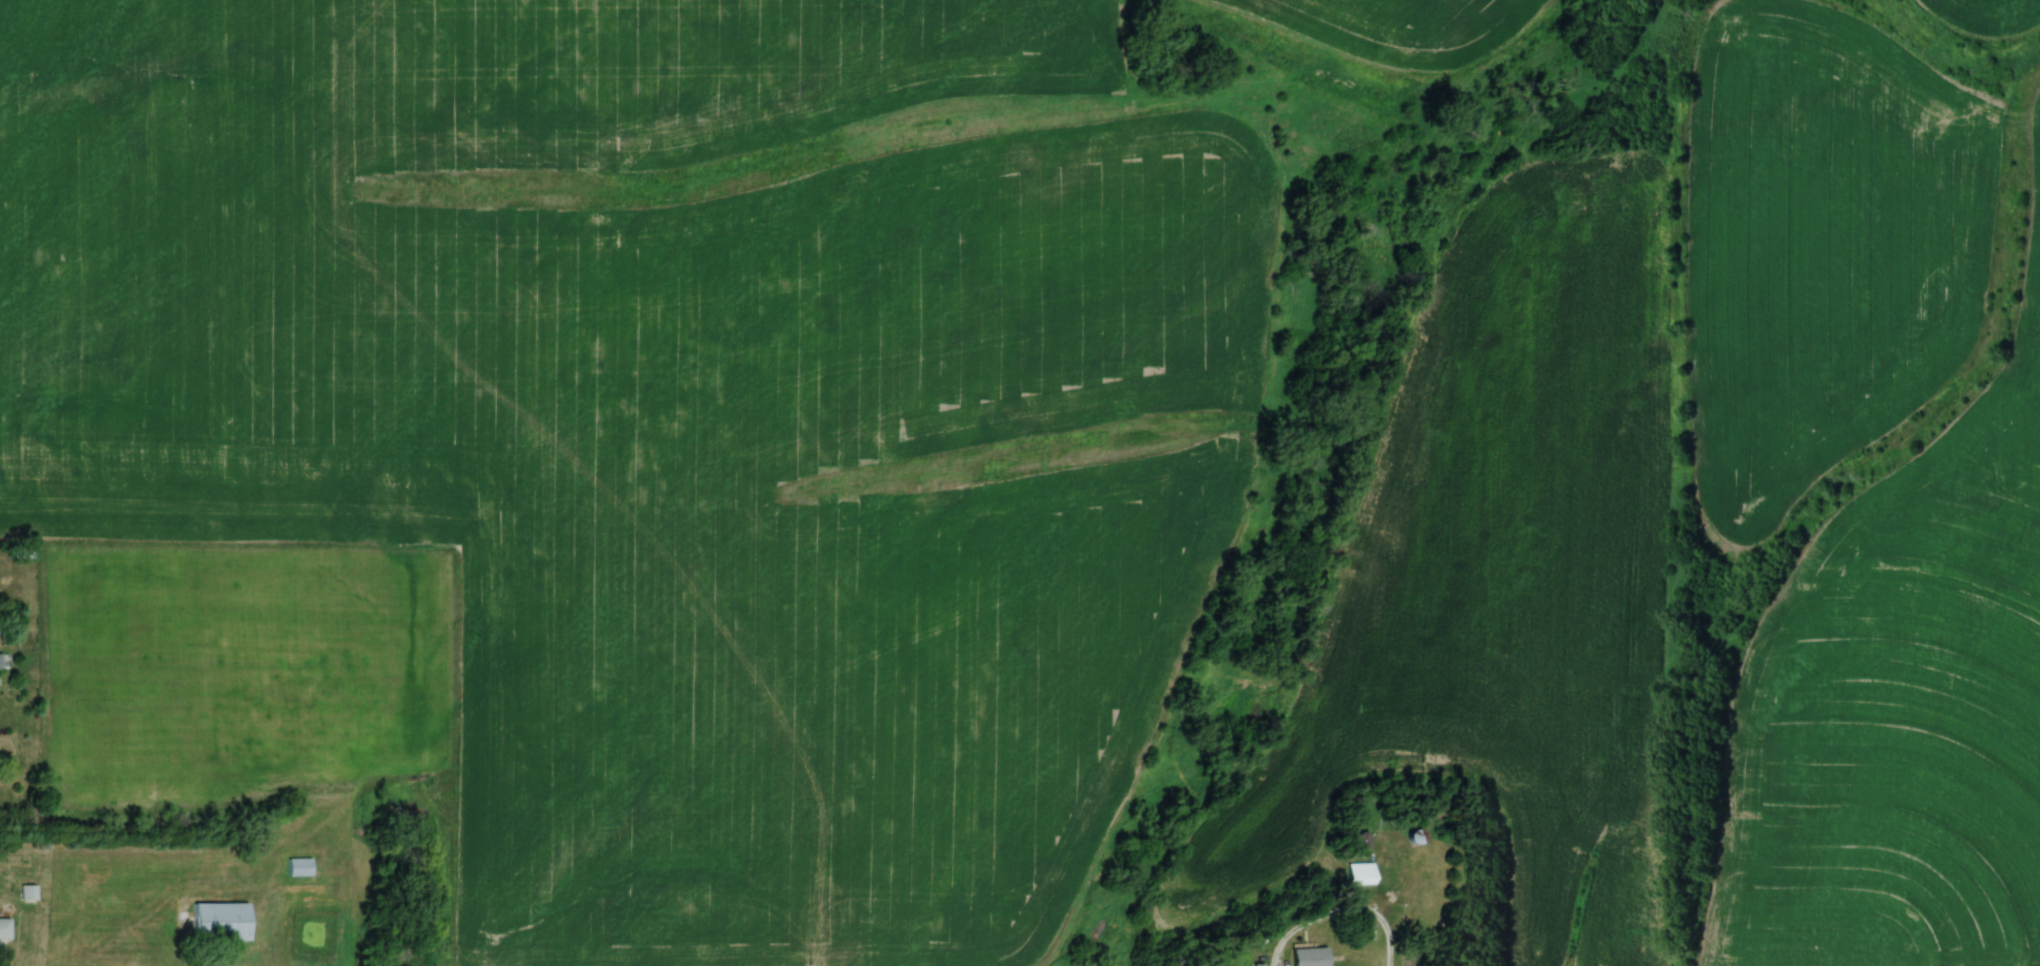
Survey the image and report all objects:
building: (1, 662)
building: (1416, 835)
building: (1362, 840)
building: (300, 866)
building: (1362, 873)
building: (28, 891)
building: (222, 920)
building: (4, 929)
building: (1311, 956)
building: (1257, 965)

